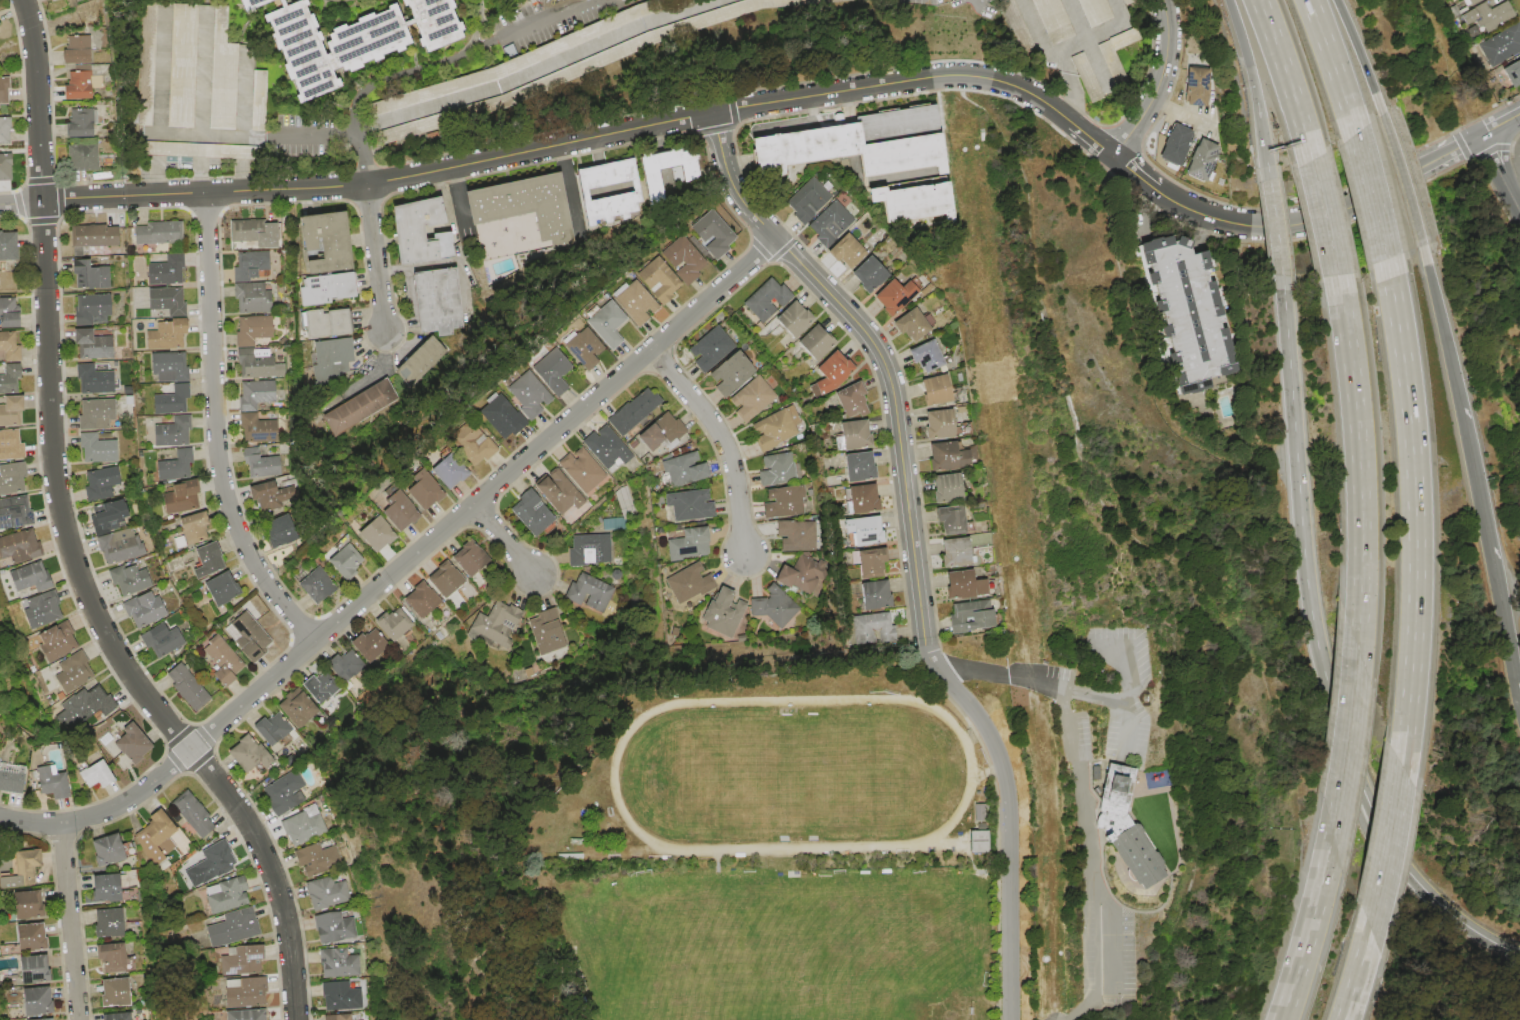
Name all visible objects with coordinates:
building: (807, 1)
building: (1122, 1)
building: (1474, 1)
building: (244, 5)
building: (0, 9)
building: (1093, 10)
building: (1007, 14)
building: (1488, 15)
building: (1, 20)
building: (1051, 20)
road: (476, 21)
road: (1038, 31)
building: (1474, 31)
road: (1098, 33)
building: (349, 39)
building: (1502, 44)
building: (73, 50)
road: (445, 52)
building: (1102, 54)
road: (1359, 55)
building: (146, 63)
road: (581, 63)
building: (173, 65)
road: (1332, 65)
building: (1513, 72)
building: (1084, 77)
road: (1286, 78)
road: (1252, 81)
building: (221, 83)
road: (1160, 84)
building: (74, 86)
building: (1193, 86)
road: (1070, 87)
building: (5, 91)
building: (256, 101)
road: (1183, 113)
road: (798, 122)
building: (76, 123)
road: (1498, 124)
building: (6, 129)
building: (399, 131)
road: (212, 134)
road: (343, 137)
building: (1172, 143)
road: (570, 144)
building: (851, 145)
building: (197, 150)
building: (79, 156)
building: (1199, 159)
building: (314, 164)
building: (7, 166)
building: (655, 172)
road: (1498, 176)
road: (1402, 178)
road: (569, 183)
building: (607, 190)
road: (1371, 195)
road: (456, 198)
building: (805, 200)
building: (905, 203)
building: (519, 204)
road: (1324, 216)
building: (828, 224)
road: (1296, 224)
road: (1275, 227)
building: (411, 230)
building: (252, 232)
building: (156, 233)
building: (711, 236)
building: (91, 237)
building: (318, 244)
building: (442, 244)
building: (9, 246)
building: (843, 252)
road: (378, 259)
building: (681, 259)
building: (249, 265)
building: (164, 271)
building: (89, 274)
building: (866, 275)
building: (655, 280)
building: (324, 290)
building: (890, 297)
building: (251, 298)
building: (165, 300)
building: (766, 300)
building: (435, 302)
building: (630, 303)
building: (89, 306)
building: (1186, 310)
building: (10, 313)
building: (792, 319)
building: (602, 322)
building: (322, 324)
building: (907, 325)
road: (1441, 326)
building: (251, 330)
building: (164, 335)
building: (815, 343)
building: (90, 344)
building: (10, 346)
building: (580, 349)
building: (709, 349)
road: (379, 354)
building: (330, 356)
building: (922, 357)
building: (419, 360)
building: (256, 365)
building: (168, 366)
building: (831, 371)
building: (547, 372)
building: (728, 373)
building: (11, 378)
building: (92, 380)
building: (933, 391)
building: (255, 394)
building: (523, 395)
building: (750, 398)
building: (850, 399)
building: (170, 400)
building: (13, 411)
building: (631, 411)
building: (94, 413)
building: (497, 418)
building: (337, 419)
building: (936, 423)
building: (256, 428)
building: (775, 428)
building: (171, 432)
building: (661, 432)
road: (217, 433)
building: (852, 434)
road: (724, 442)
building: (468, 444)
building: (604, 447)
building: (95, 448)
building: (12, 449)
building: (944, 454)
road: (1357, 461)
building: (260, 463)
building: (174, 465)
building: (857, 466)
building: (776, 469)
building: (579, 470)
building: (681, 470)
building: (444, 472)
building: (12, 478)
building: (100, 482)
building: (943, 486)
building: (419, 490)
building: (557, 492)
building: (265, 496)
building: (180, 497)
building: (860, 497)
building: (783, 501)
building: (688, 505)
building: (394, 510)
building: (15, 511)
road: (1415, 511)
building: (529, 512)
building: (106, 515)
building: (947, 519)
building: (280, 528)
building: (861, 529)
building: (189, 530)
building: (372, 534)
building: (795, 535)
road: (70, 539)
road: (505, 541)
building: (685, 543)
building: (20, 546)
building: (119, 546)
building: (589, 549)
road: (915, 549)
building: (952, 550)
road: (1489, 551)
building: (467, 557)
building: (206, 560)
building: (868, 560)
building: (342, 562)
road: (404, 567)
building: (800, 575)
building: (32, 578)
building: (443, 578)
building: (127, 579)
building: (687, 582)
building: (960, 583)
building: (315, 585)
building: (219, 589)
building: (582, 590)
building: (871, 593)
building: (419, 599)
building: (717, 602)
building: (774, 606)
building: (42, 609)
building: (143, 609)
building: (965, 616)
building: (875, 620)
building: (496, 623)
building: (391, 624)
building: (546, 628)
building: (241, 636)
building: (160, 641)
building: (56, 643)
building: (367, 644)
road: (1321, 658)
building: (220, 660)
building: (342, 664)
road: (1127, 664)
building: (74, 673)
building: (185, 686)
building: (310, 687)
road: (1519, 699)
road: (1114, 701)
building: (87, 704)
building: (294, 708)
building: (269, 728)
road: (1346, 741)
building: (137, 743)
building: (247, 752)
building: (102, 775)
building: (14, 778)
building: (57, 783)
building: (1109, 787)
building: (280, 792)
road: (1083, 798)
building: (978, 811)
building: (195, 814)
building: (301, 827)
building: (158, 837)
building: (978, 840)
road: (1387, 848)
building: (111, 851)
building: (1131, 853)
building: (313, 859)
building: (216, 861)
building: (26, 869)
park: (8, 878)
building: (112, 889)
building: (325, 892)
building: (228, 895)
building: (31, 904)
road: (72, 922)
building: (115, 923)
building: (331, 926)
road: (1308, 927)
building: (233, 928)
building: (34, 937)
building: (118, 957)
building: (243, 960)
building: (338, 963)
building: (38, 969)
road: (1356, 974)
building: (123, 993)
building: (247, 993)
building: (340, 996)
building: (41, 1001)
building: (247, 1015)
building: (125, 1017)
building: (337, 1017)
building: (40, 1019)

